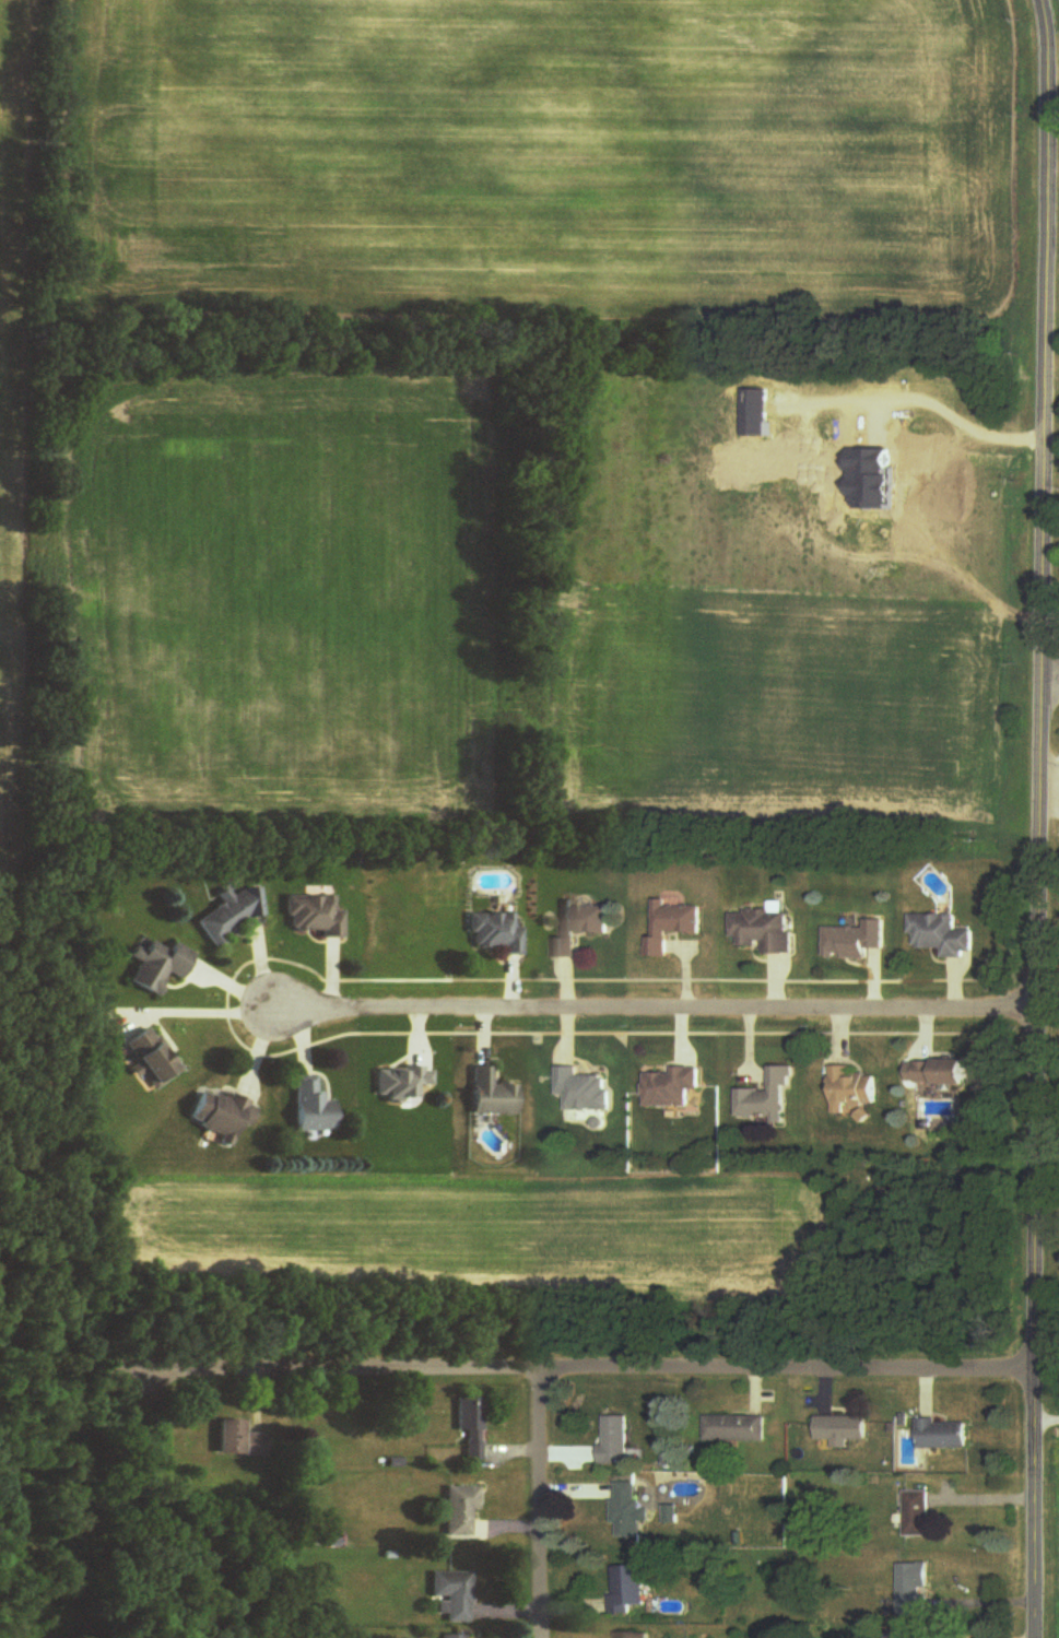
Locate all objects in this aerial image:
crop: (7, 441)
road: (1050, 674)
road: (1044, 818)
building: (233, 915)
building: (315, 917)
building: (675, 927)
building: (583, 928)
building: (767, 931)
building: (496, 933)
building: (944, 936)
building: (858, 941)
building: (158, 966)
road: (638, 1010)
building: (153, 1059)
building: (945, 1074)
building: (403, 1083)
building: (674, 1088)
building: (855, 1091)
building: (586, 1092)
building: (493, 1095)
building: (769, 1098)
building: (313, 1109)
building: (222, 1117)
crop: (484, 1225)
road: (574, 1369)
road: (1049, 1409)
building: (471, 1427)
building: (737, 1429)
building: (844, 1430)
building: (946, 1435)
building: (617, 1440)
building: (243, 1441)
road: (539, 1504)
building: (632, 1507)
building: (460, 1510)
building: (918, 1515)
building: (915, 1583)
building: (629, 1589)
building: (454, 1594)
building: (635, 1635)
building: (911, 1635)
building: (454, 1636)

